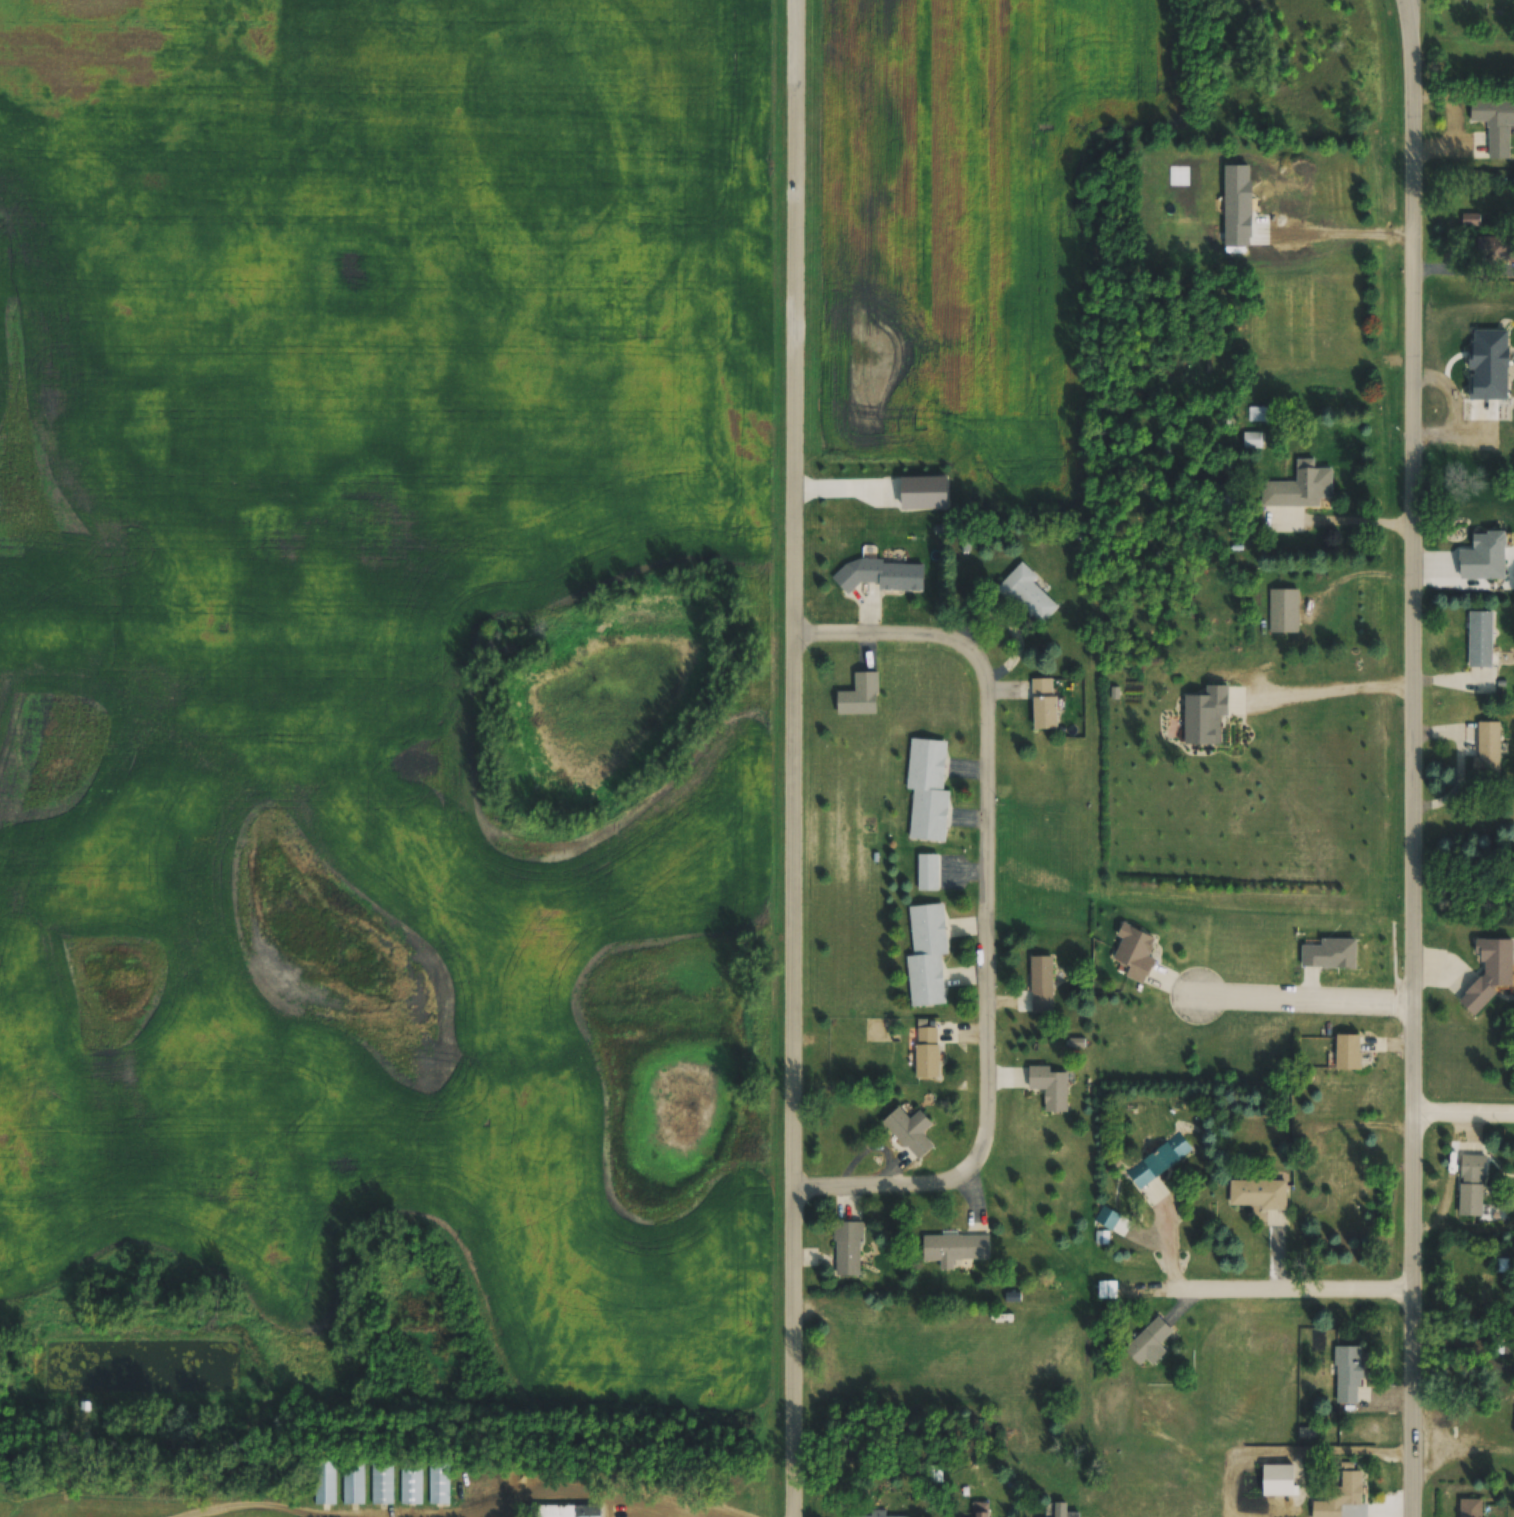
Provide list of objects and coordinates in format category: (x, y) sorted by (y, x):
road: (1414, 18)
building: (1494, 124)
building: (1470, 221)
building: (1495, 250)
building: (1252, 440)
building: (1228, 495)
building: (1295, 497)
building: (881, 575)
building: (1027, 595)
building: (1480, 640)
building: (860, 696)
building: (1044, 705)
building: (1205, 715)
building: (1487, 750)
road: (1412, 757)
road: (796, 758)
building: (927, 790)
road: (986, 906)
building: (1134, 952)
building: (1330, 954)
building: (926, 955)
building: (1490, 973)
building: (1041, 984)
building: (927, 1052)
building: (1348, 1052)
building: (1050, 1086)
road: (1463, 1118)
building: (910, 1131)
building: (1157, 1168)
building: (1471, 1185)
building: (1257, 1193)
building: (1106, 1218)
building: (954, 1248)
building: (848, 1249)
road: (1269, 1271)
building: (1106, 1289)
building: (1148, 1340)
building: (848, 1350)
building: (1347, 1374)
building: (1009, 1414)
park: (384, 1428)
road: (526, 1475)
building: (380, 1476)
building: (408, 1476)
building: (351, 1477)
building: (436, 1478)
building: (323, 1479)
building: (1346, 1492)
road: (564, 1496)
road: (239, 1499)
building: (1470, 1507)
building: (567, 1509)
building: (981, 1509)
building: (1063, 1511)
building: (877, 1514)

